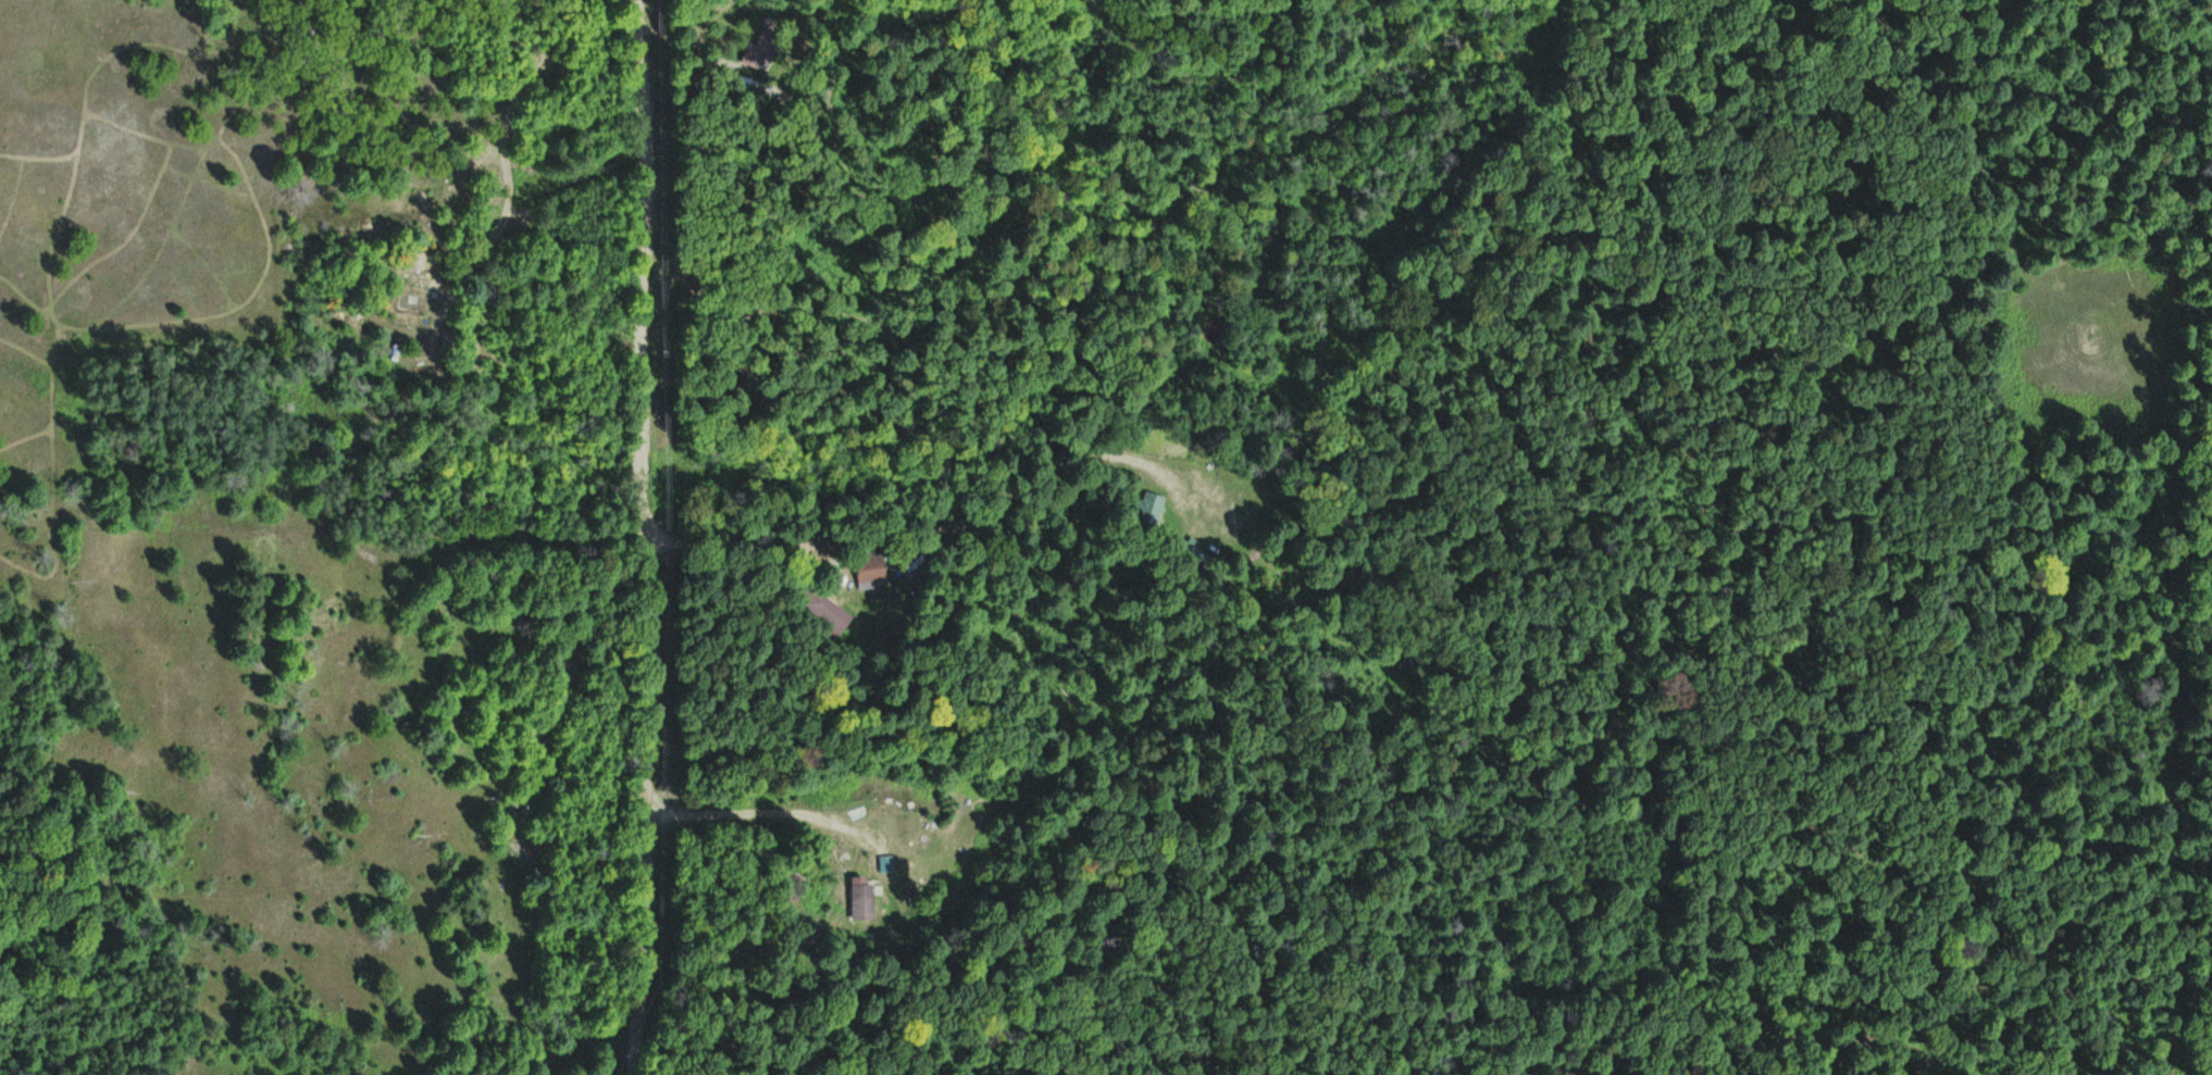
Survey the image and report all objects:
building: (765, 42)
road: (1989, 158)
building: (1150, 509)
road: (654, 537)
road: (1319, 545)
building: (1197, 555)
building: (874, 566)
building: (825, 611)
building: (865, 902)

